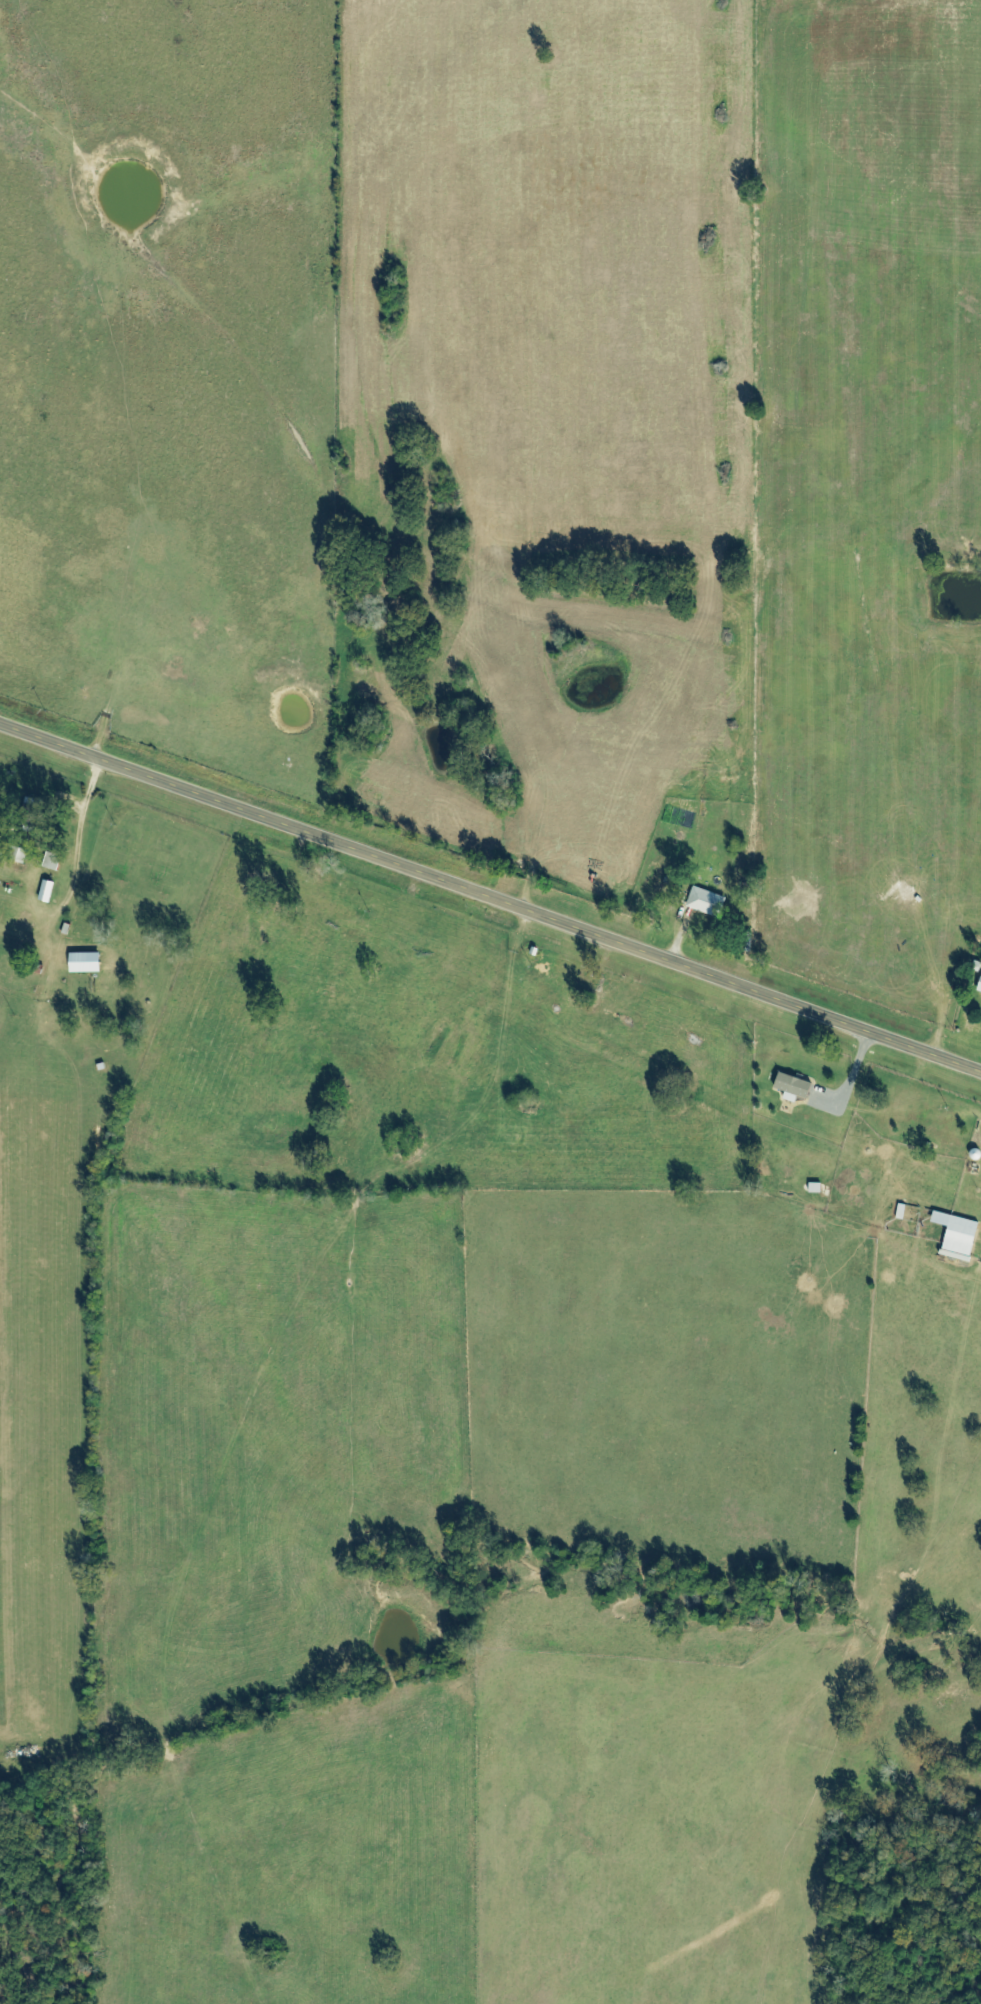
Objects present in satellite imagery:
building: (31, 814)
building: (17, 856)
building: (51, 862)
road: (490, 890)
building: (46, 892)
building: (704, 901)
building: (980, 985)
building: (793, 1082)
building: (958, 1230)

